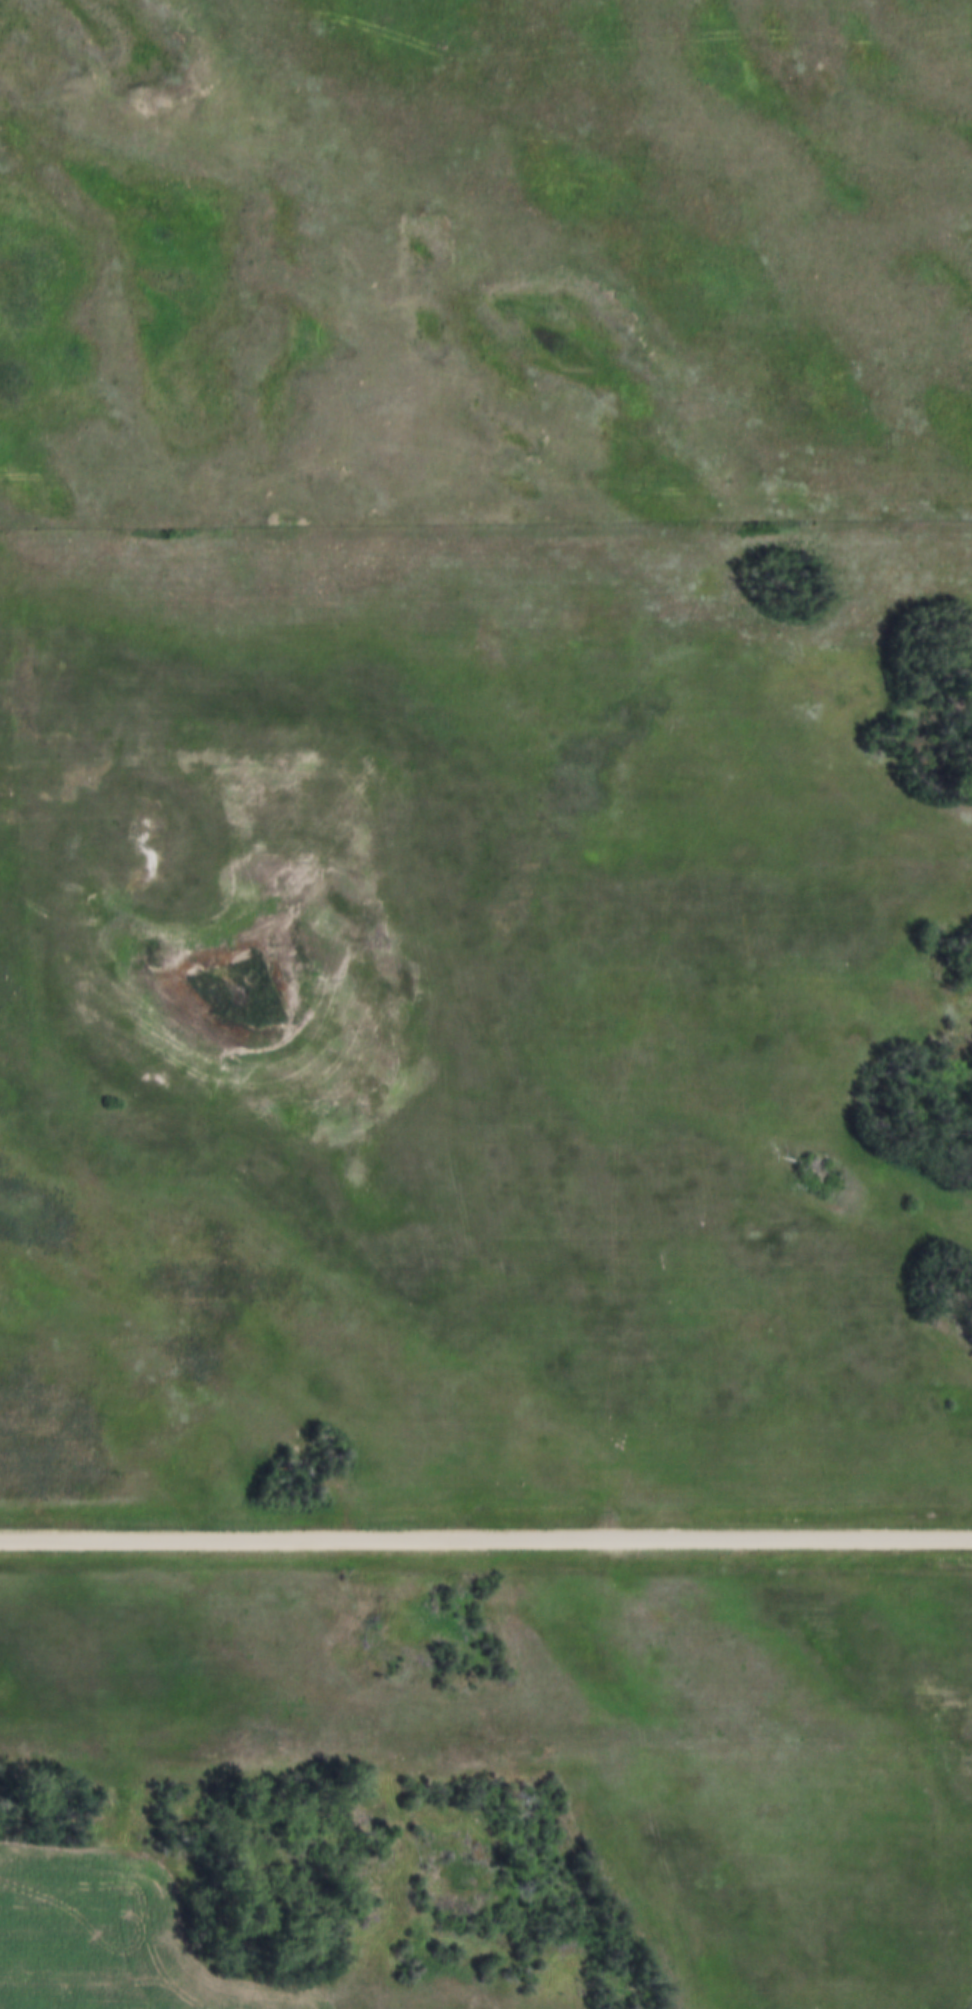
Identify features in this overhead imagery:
road: (486, 1538)

